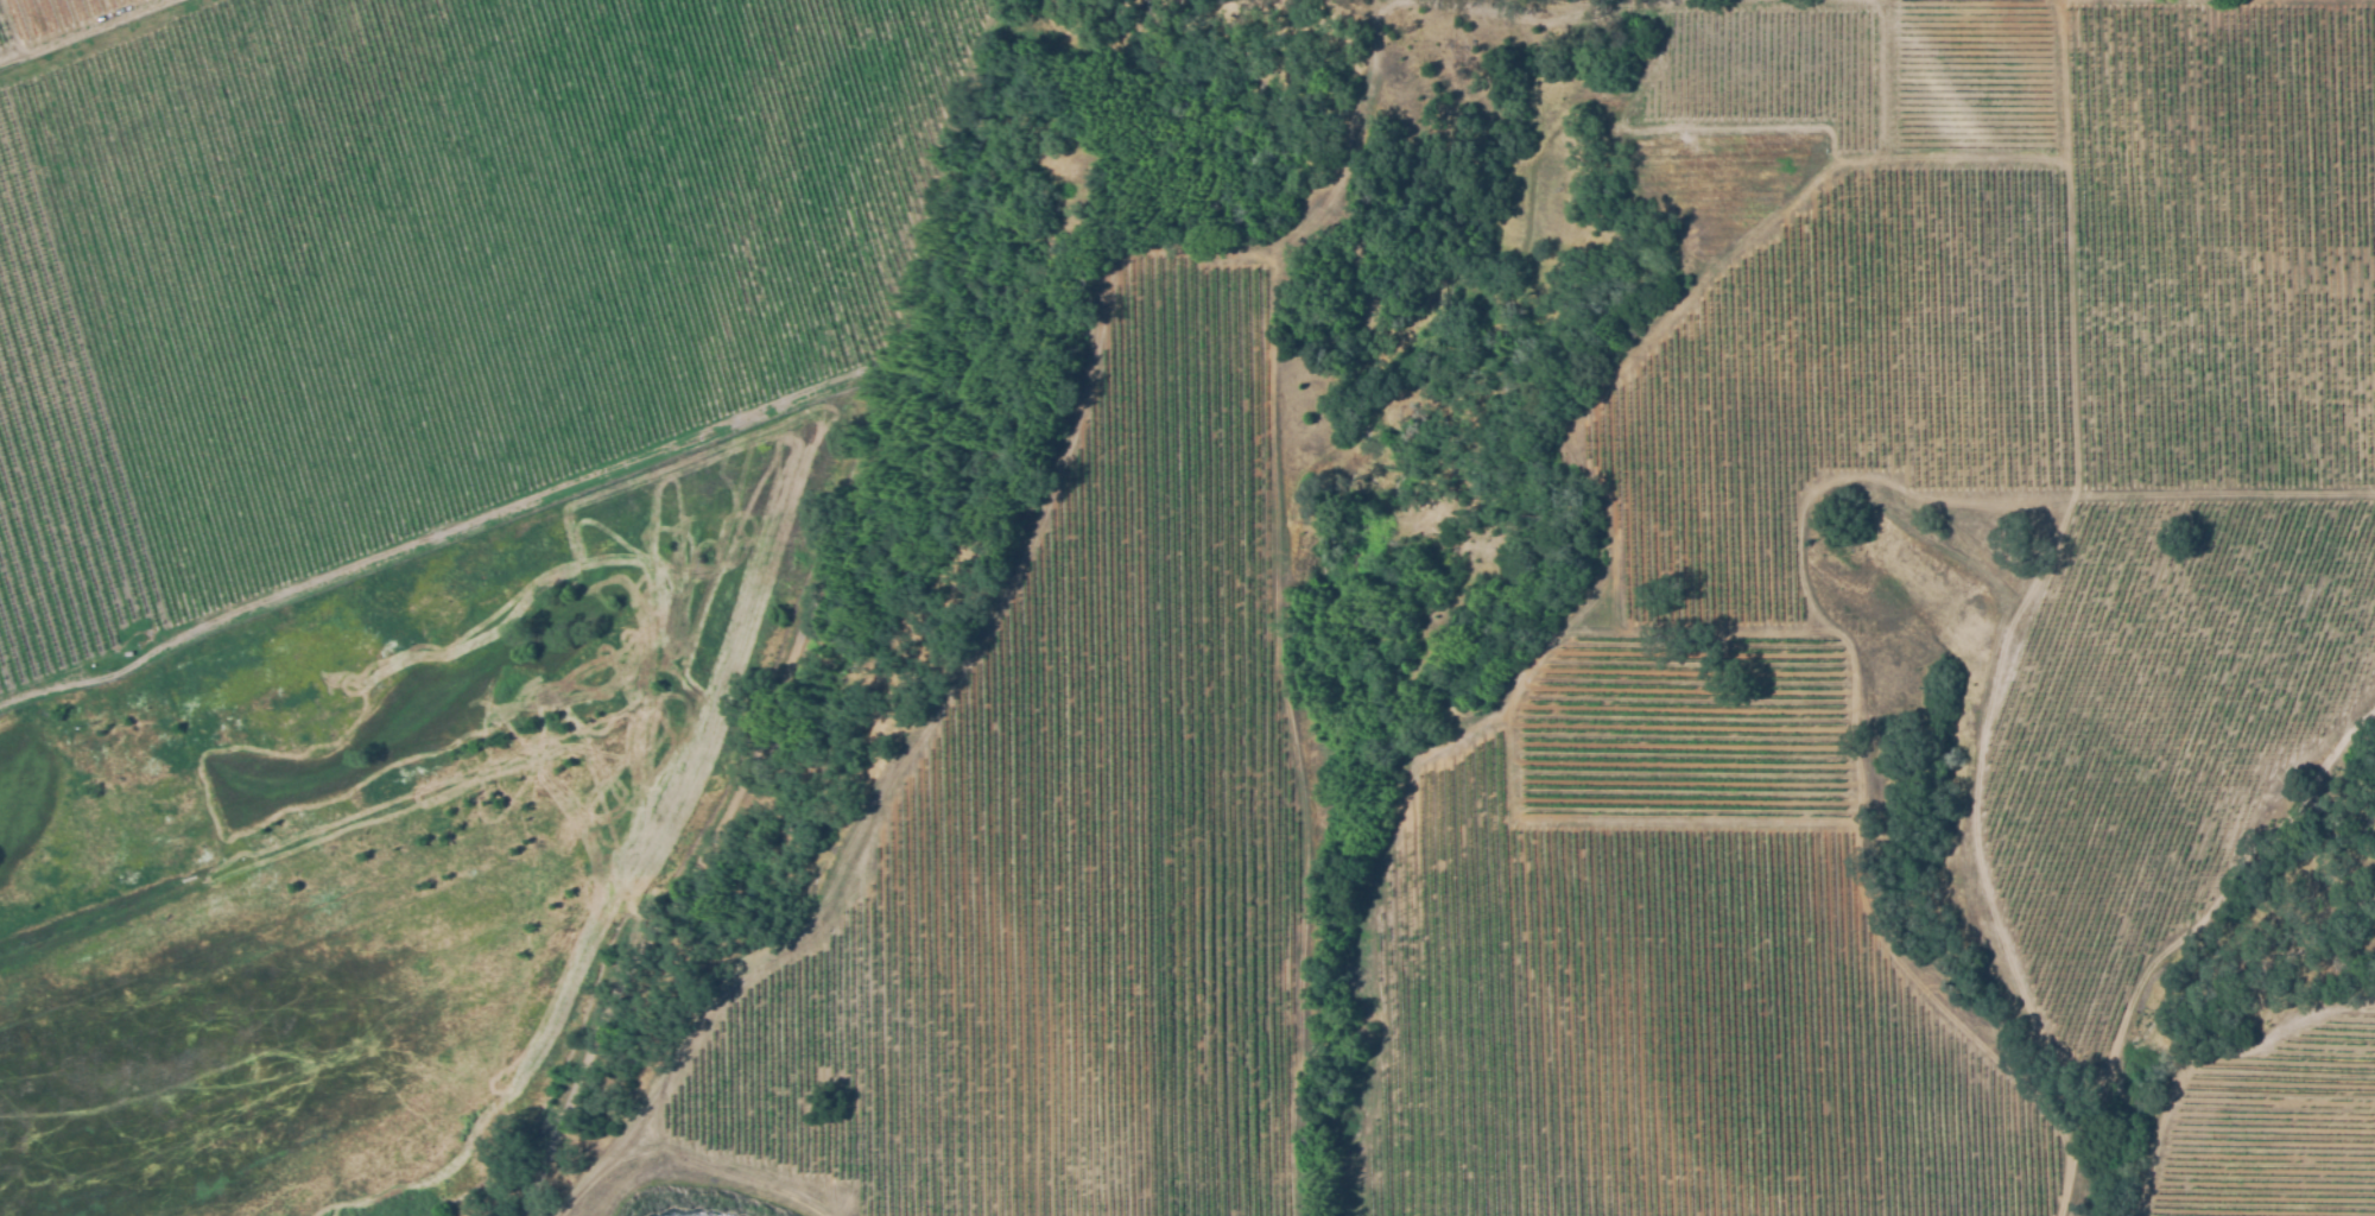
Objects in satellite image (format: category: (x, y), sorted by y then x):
road: (2160, 964)

